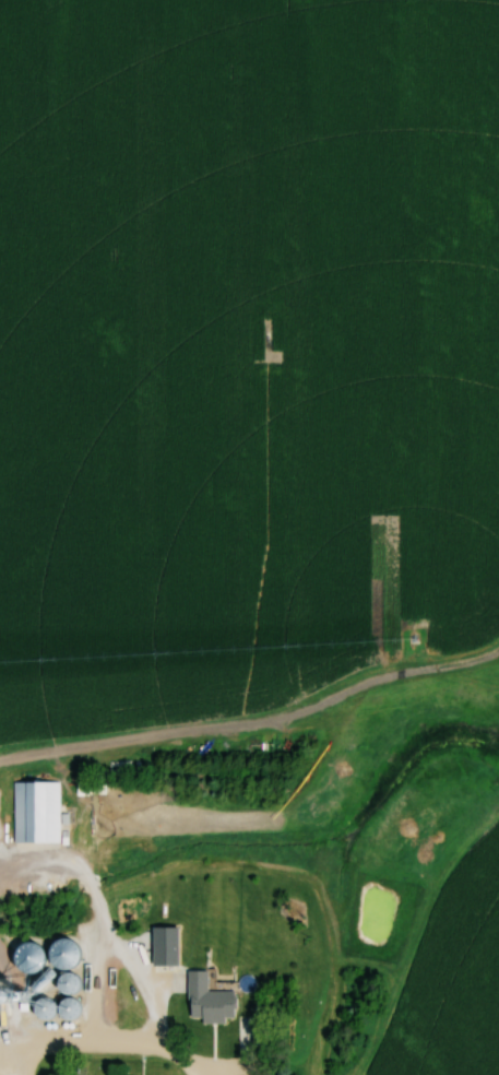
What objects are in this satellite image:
building: (38, 811)
building: (67, 956)
building: (211, 996)
building: (49, 1008)
road: (114, 1042)

